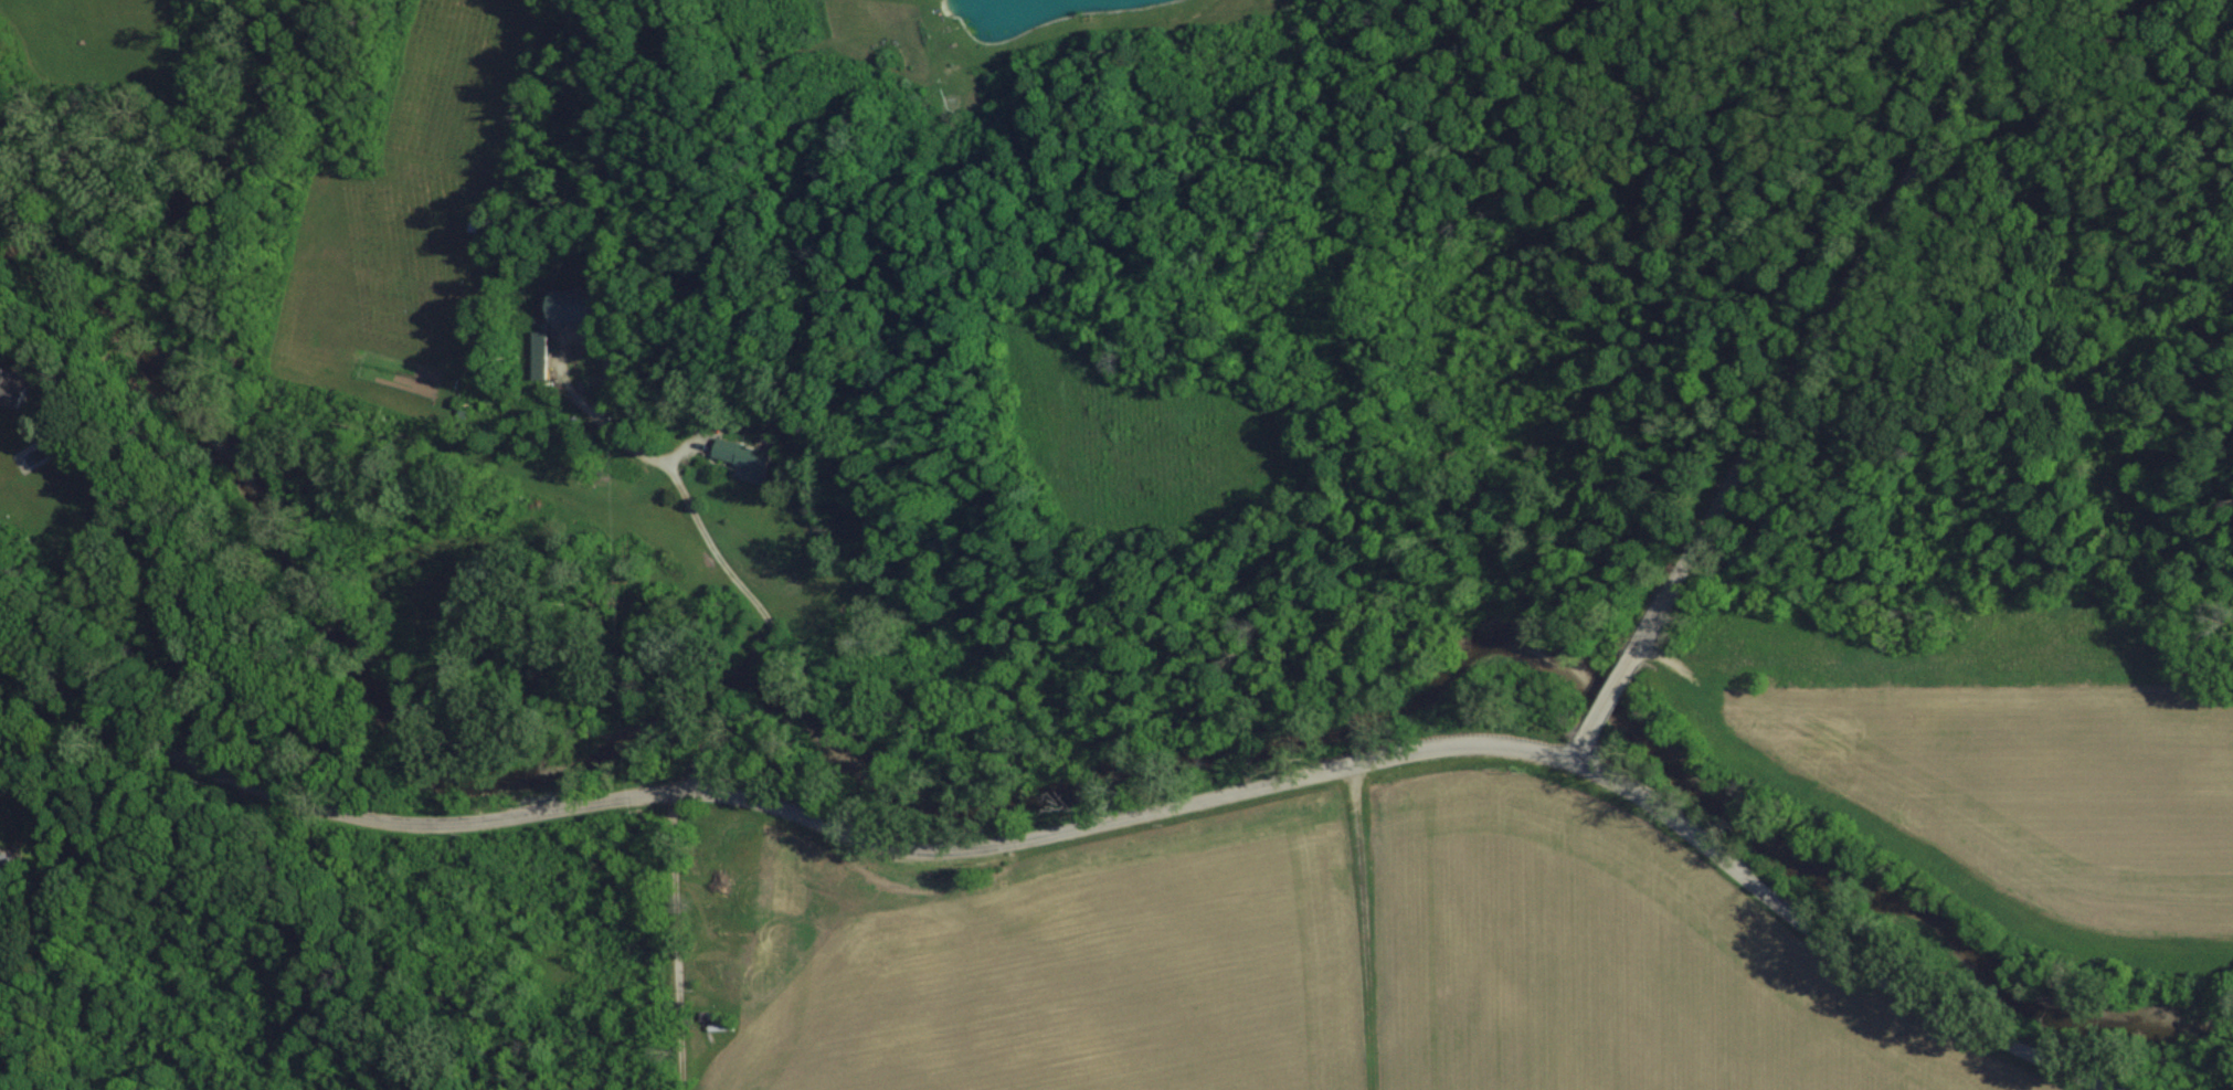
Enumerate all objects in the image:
building: (573, 304)
road: (1820, 326)
building: (11, 388)
building: (749, 457)
road: (690, 514)
road: (3, 639)
road: (1612, 699)
road: (47, 752)
road: (791, 811)
road: (675, 941)
road: (1832, 944)

